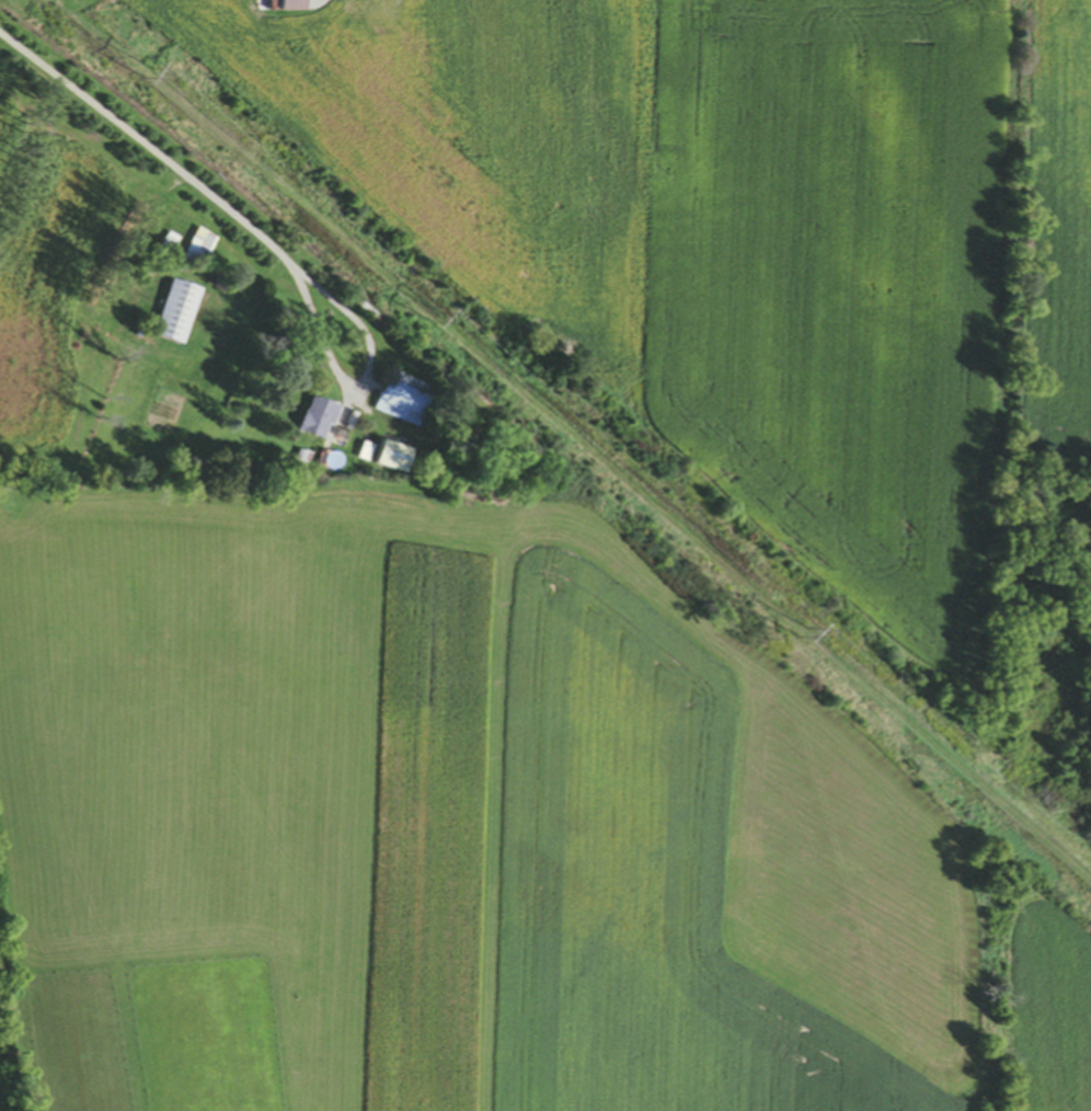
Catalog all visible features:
building: (295, 3)
power tower: (143, 69)
road: (139, 149)
building: (197, 254)
building: (177, 314)
power tower: (436, 316)
road: (360, 385)
building: (402, 404)
building: (319, 421)
building: (391, 459)
power tower: (813, 641)

